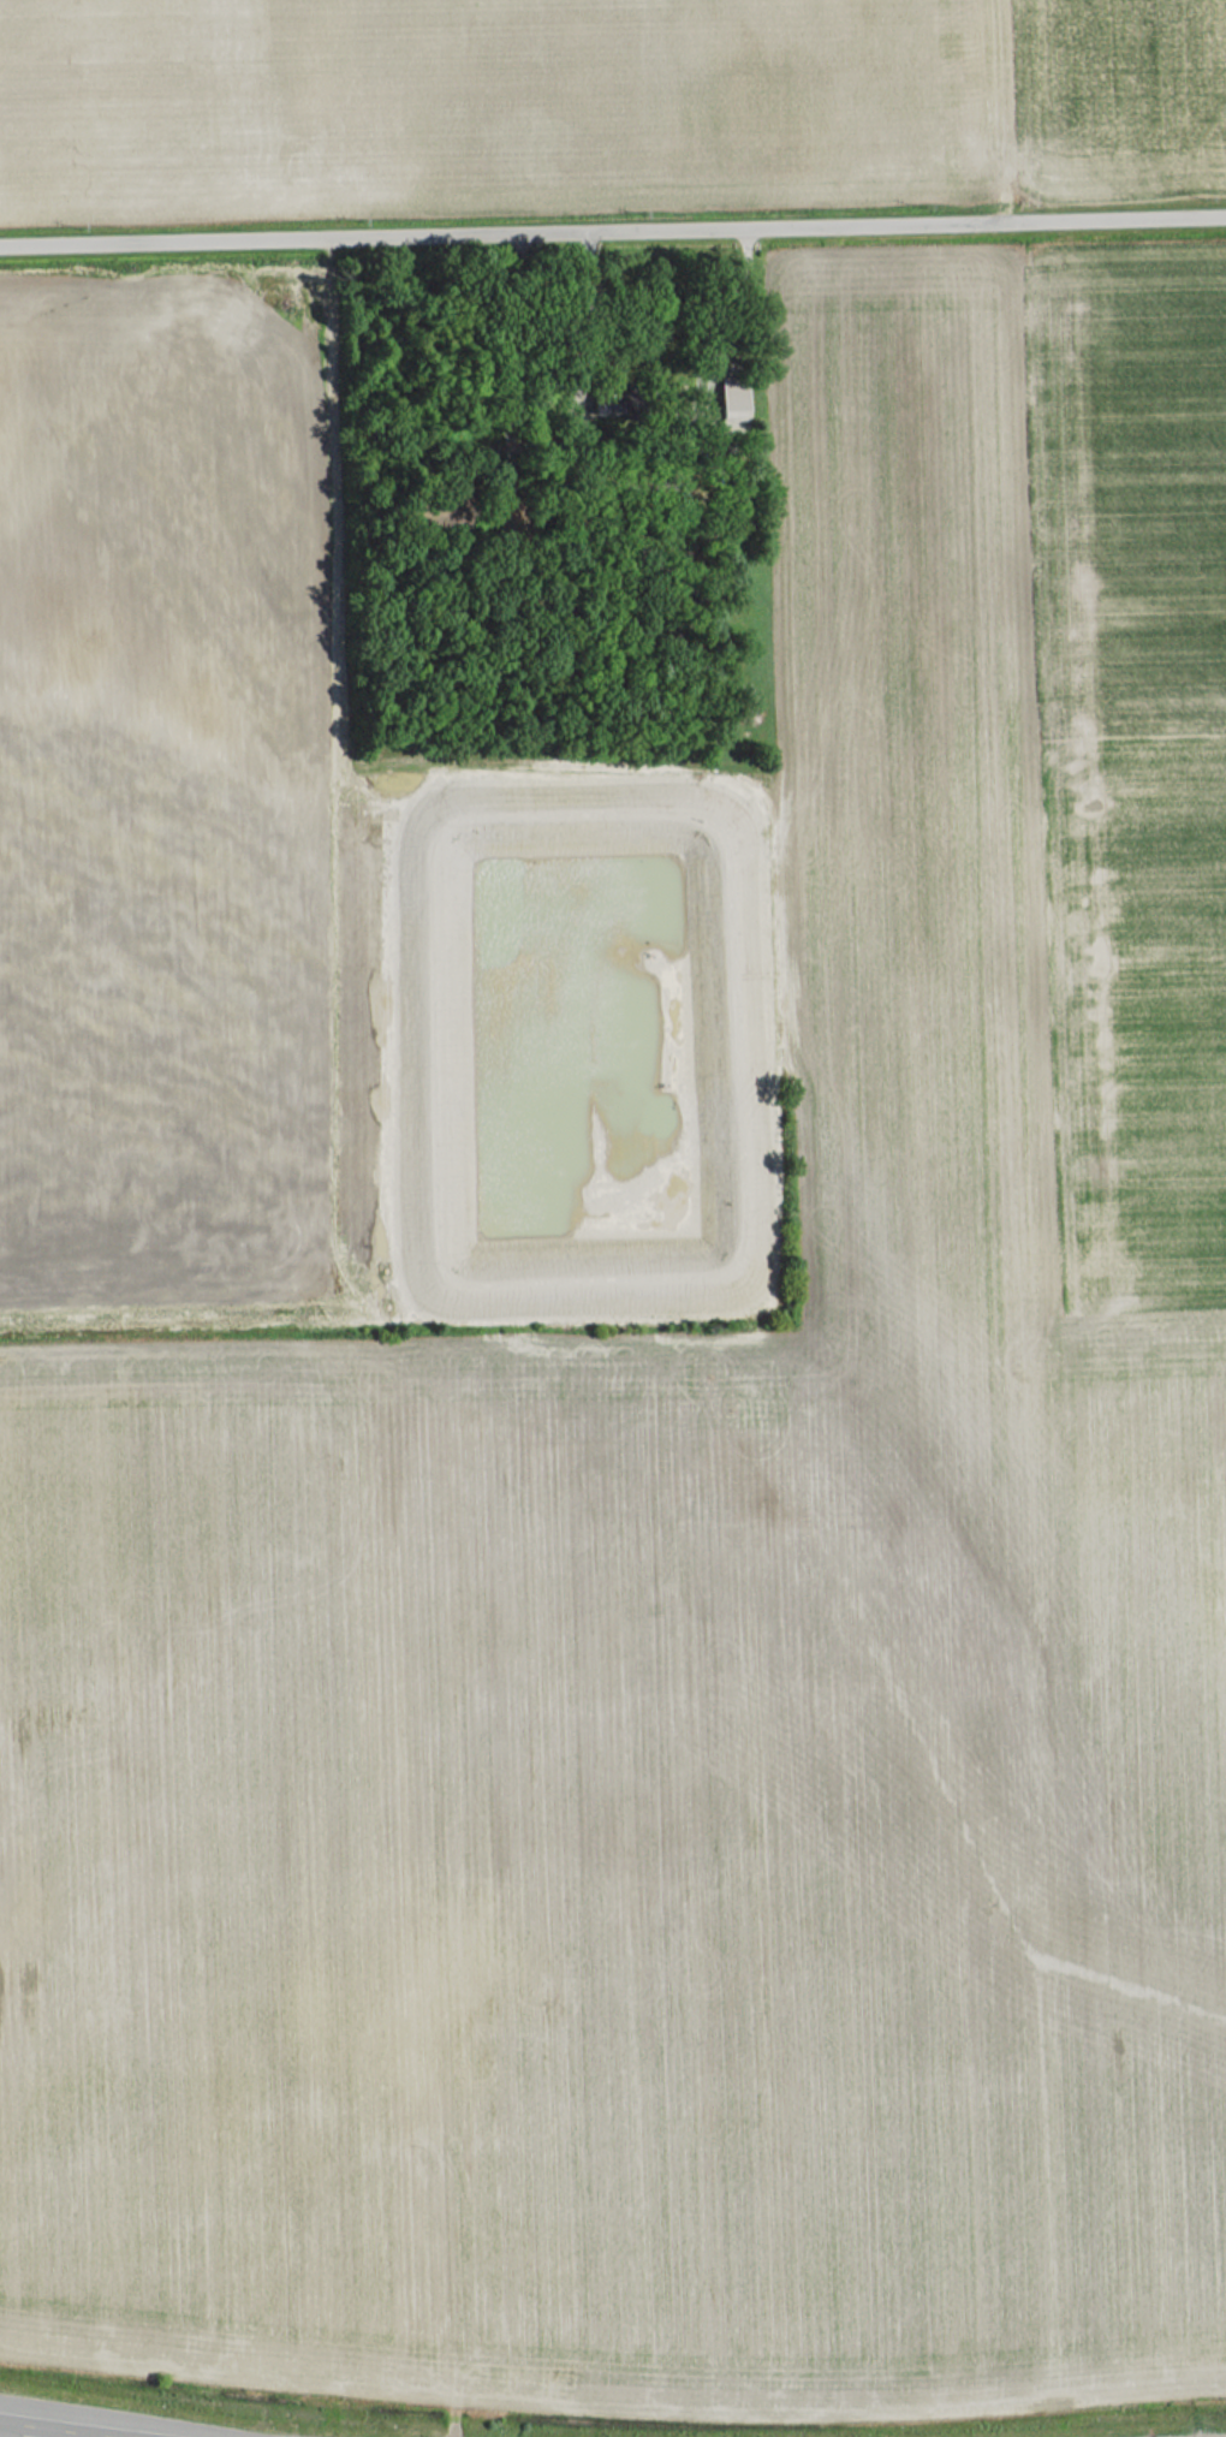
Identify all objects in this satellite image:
road: (613, 227)
road: (55, 2429)

